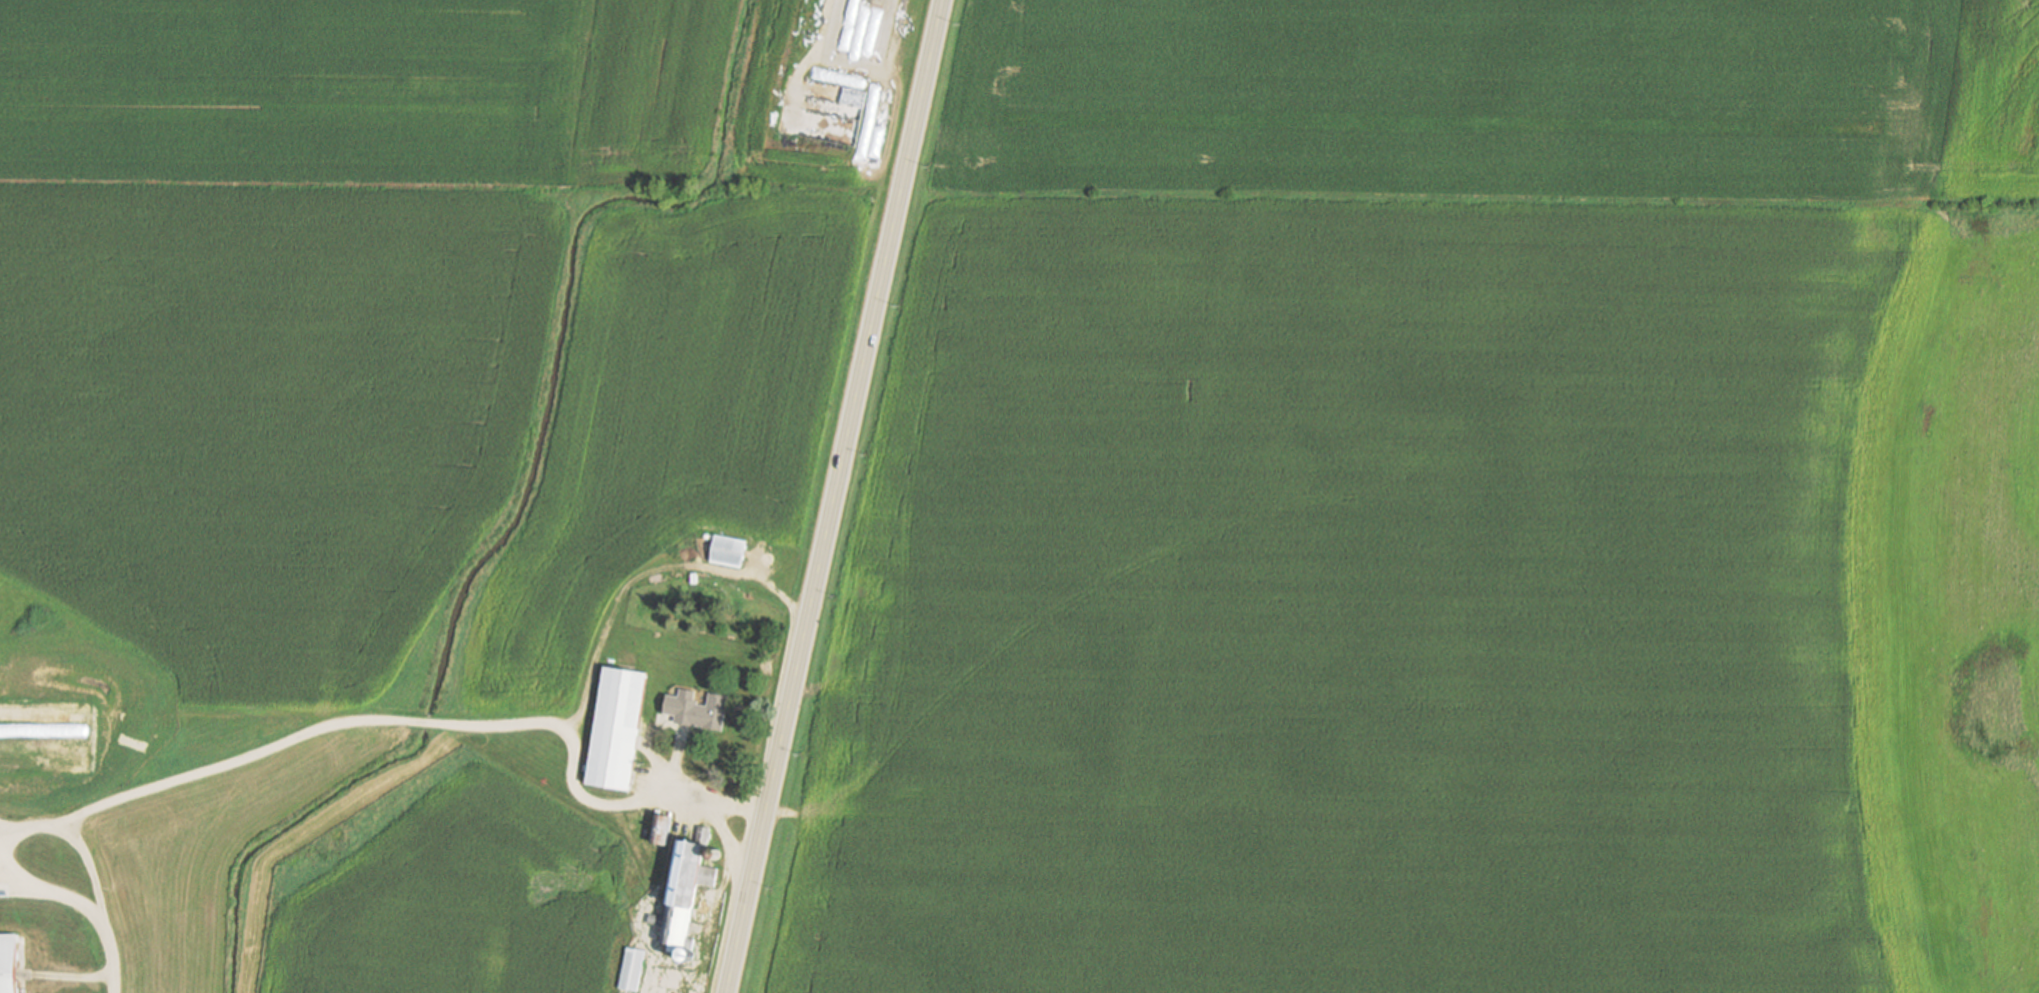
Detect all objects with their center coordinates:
crop: (1499, 96)
building: (829, 163)
road: (835, 496)
building: (729, 548)
building: (705, 711)
building: (617, 727)
building: (12, 749)
building: (15, 760)
road: (107, 801)
road: (54, 824)
building: (662, 828)
building: (688, 885)
building: (657, 918)
road: (114, 956)
building: (9, 963)
building: (633, 968)

